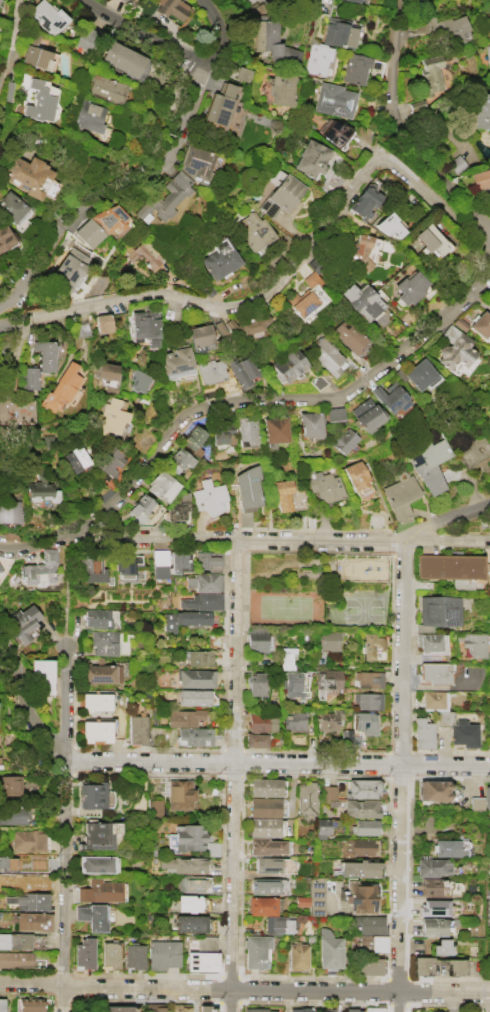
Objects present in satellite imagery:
building: (286, 0)
building: (353, 0)
building: (122, 1)
building: (129, 2)
building: (171, 8)
building: (47, 16)
building: (485, 22)
building: (422, 23)
building: (453, 28)
building: (341, 32)
building: (87, 37)
building: (272, 41)
road: (10, 44)
road: (178, 49)
building: (34, 52)
building: (488, 54)
building: (316, 58)
building: (125, 59)
building: (355, 68)
building: (242, 73)
building: (431, 73)
building: (107, 88)
building: (281, 89)
building: (333, 99)
building: (38, 102)
building: (416, 104)
building: (223, 107)
building: (480, 109)
building: (89, 116)
road: (401, 127)
building: (332, 131)
building: (310, 158)
building: (196, 163)
building: (457, 164)
building: (32, 177)
building: (484, 182)
road: (108, 184)
building: (279, 193)
building: (166, 198)
building: (365, 201)
building: (13, 207)
building: (110, 218)
building: (389, 225)
building: (254, 231)
building: (87, 233)
building: (6, 237)
building: (431, 240)
building: (364, 250)
building: (143, 256)
building: (220, 259)
building: (68, 269)
road: (277, 283)
building: (409, 287)
building: (308, 298)
building: (374, 308)
building: (253, 322)
building: (102, 323)
building: (459, 323)
building: (481, 325)
building: (230, 326)
building: (145, 327)
building: (81, 328)
building: (219, 328)
building: (200, 335)
building: (350, 335)
road: (299, 342)
building: (454, 348)
building: (326, 355)
building: (39, 363)
building: (177, 363)
building: (288, 366)
building: (210, 370)
building: (242, 370)
building: (105, 371)
building: (418, 373)
building: (138, 380)
building: (317, 381)
building: (60, 388)
road: (273, 397)
building: (390, 397)
building: (16, 410)
building: (334, 414)
building: (366, 415)
building: (111, 416)
building: (309, 424)
building: (247, 430)
building: (279, 433)
building: (221, 434)
building: (193, 437)
building: (344, 440)
building: (75, 459)
building: (178, 459)
building: (110, 462)
building: (434, 468)
building: (358, 479)
building: (161, 485)
building: (324, 485)
building: (41, 488)
building: (247, 488)
building: (281, 493)
building: (403, 493)
building: (208, 495)
building: (139, 505)
building: (177, 508)
building: (9, 511)
road: (445, 521)
road: (278, 540)
road: (33, 545)
building: (208, 558)
building: (179, 562)
building: (126, 563)
building: (158, 563)
building: (91, 567)
building: (39, 568)
building: (488, 568)
building: (0, 569)
building: (453, 571)
building: (204, 581)
park: (318, 590)
building: (201, 601)
park: (284, 607)
park: (362, 609)
building: (437, 611)
building: (99, 618)
building: (183, 618)
building: (21, 623)
building: (255, 639)
building: (213, 640)
building: (328, 640)
building: (427, 641)
building: (103, 642)
building: (473, 643)
building: (370, 645)
building: (196, 657)
building: (286, 657)
building: (100, 673)
building: (433, 673)
building: (41, 676)
building: (368, 679)
building: (197, 680)
building: (327, 682)
building: (255, 683)
building: (292, 683)
road: (25, 700)
building: (197, 700)
building: (367, 700)
building: (433, 700)
road: (65, 711)
building: (183, 717)
building: (98, 720)
building: (293, 720)
building: (329, 720)
building: (260, 722)
building: (365, 722)
building: (458, 729)
building: (138, 732)
building: (421, 733)
building: (346, 734)
building: (194, 735)
building: (254, 739)
road: (277, 763)
road: (237, 776)
road: (398, 776)
building: (10, 785)
building: (264, 787)
building: (361, 788)
building: (432, 790)
building: (327, 792)
building: (179, 794)
building: (91, 795)
building: (486, 797)
building: (306, 798)
building: (475, 804)
building: (264, 807)
building: (155, 808)
building: (360, 808)
building: (13, 815)
building: (364, 826)
building: (264, 827)
building: (322, 827)
building: (97, 835)
building: (188, 837)
building: (27, 840)
building: (265, 846)
building: (361, 846)
building: (445, 848)
building: (211, 849)
building: (7, 862)
building: (37, 863)
building: (96, 864)
building: (184, 864)
building: (267, 865)
building: (431, 867)
building: (357, 868)
building: (190, 883)
road: (62, 886)
building: (268, 886)
building: (434, 887)
building: (100, 891)
building: (316, 896)
building: (358, 897)
building: (28, 901)
building: (188, 903)
building: (262, 906)
building: (433, 907)
building: (91, 916)
building: (33, 921)
building: (189, 923)
building: (277, 924)
building: (368, 925)
building: (432, 926)
building: (15, 940)
building: (370, 943)
building: (441, 947)
building: (332, 953)
building: (85, 954)
building: (258, 954)
building: (111, 955)
building: (164, 956)
building: (134, 957)
building: (299, 957)
building: (16, 959)
building: (203, 962)
building: (420, 964)
building: (368, 966)
building: (454, 966)
road: (245, 987)
building: (2, 1005)
building: (29, 1005)
building: (179, 1007)
building: (114, 1009)
building: (154, 1009)
building: (207, 1009)
building: (299, 1009)
building: (325, 1010)
building: (352, 1010)
building: (374, 1010)
building: (259, 1011)
building: (434, 1011)
building: (436, 1011)

